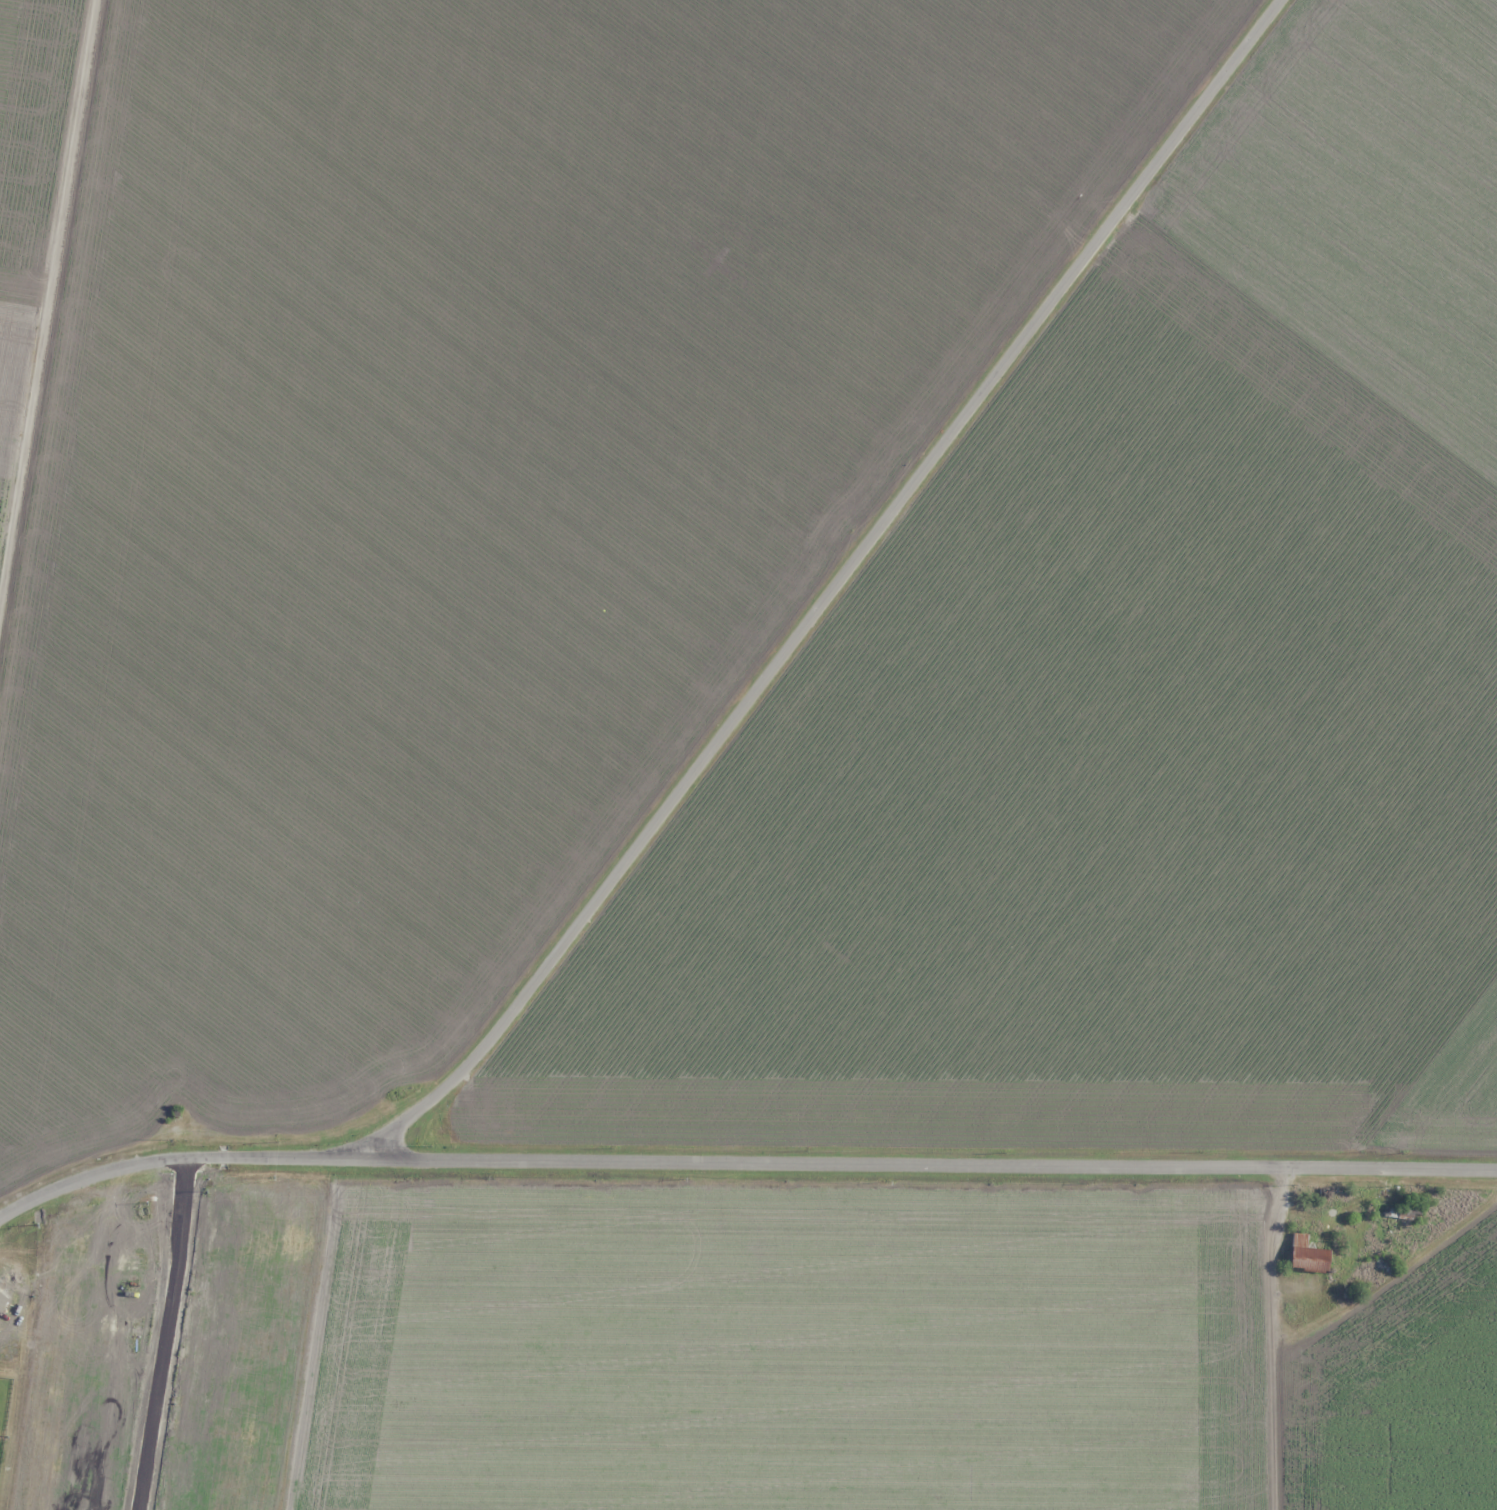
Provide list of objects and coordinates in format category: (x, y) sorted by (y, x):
road: (1386, 63)
road: (1479, 114)
road: (44, 287)
crop: (464, 476)
road: (846, 593)
crop: (1128, 715)
road: (742, 1167)
building: (1408, 1209)
building: (1313, 1261)
crop: (731, 1357)

